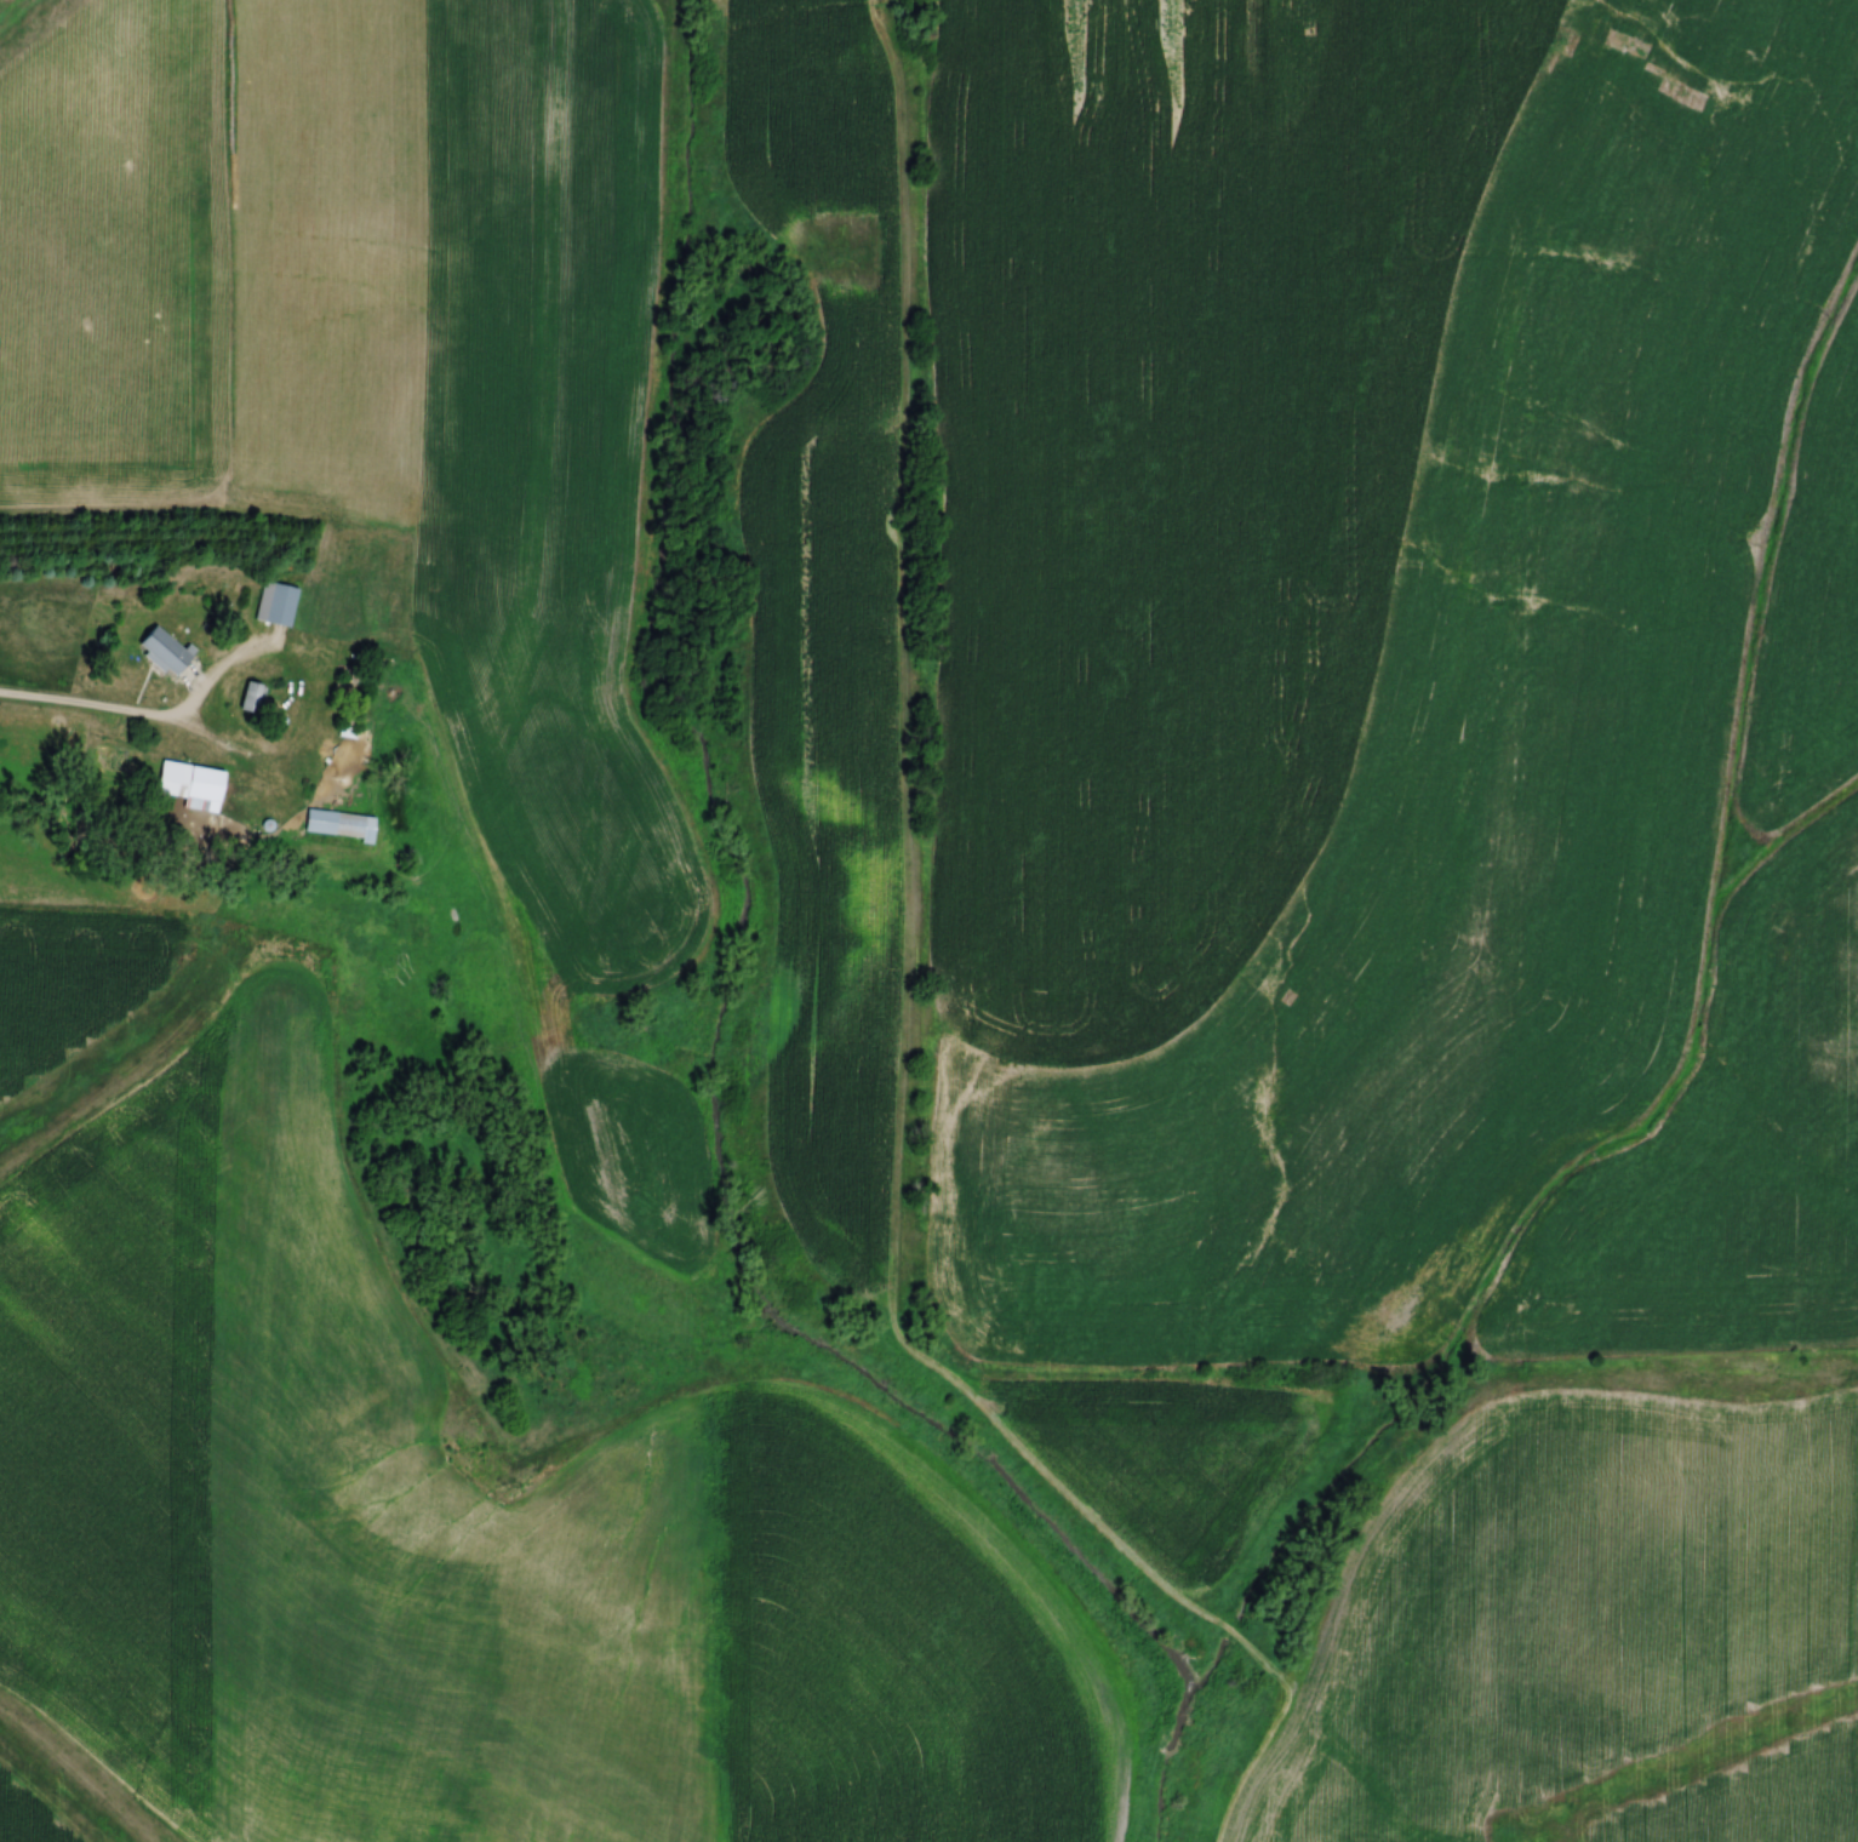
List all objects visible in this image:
building: (279, 602)
building: (159, 648)
building: (251, 696)
road: (110, 714)
building: (189, 783)
building: (333, 822)

